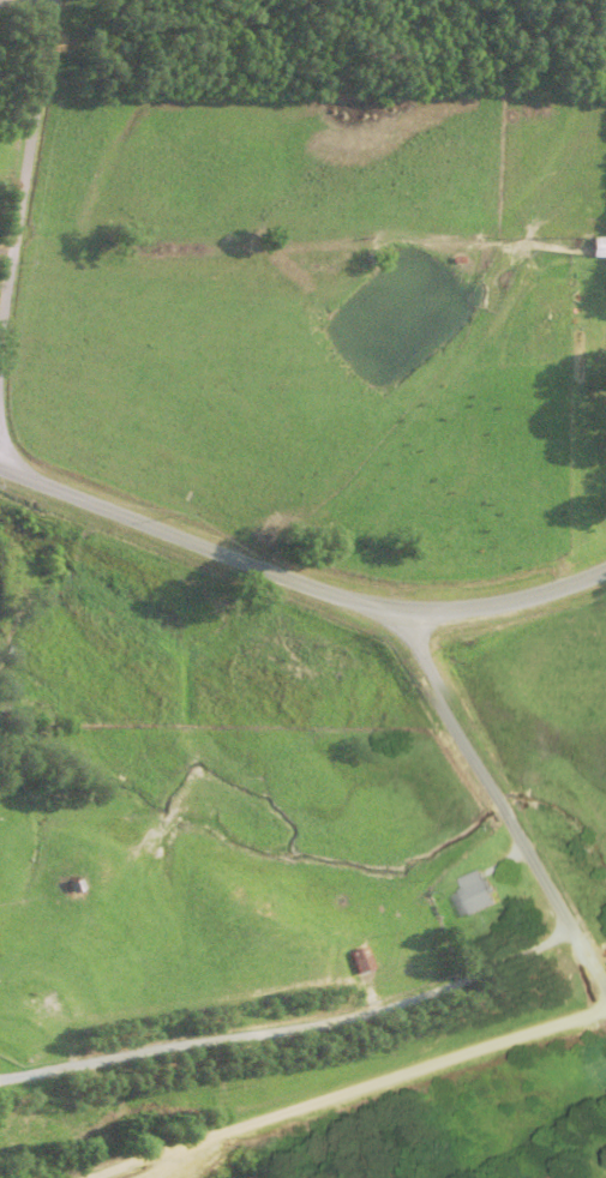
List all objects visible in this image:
road: (23, 166)
building: (595, 248)
road: (1, 456)
road: (298, 581)
road: (498, 803)
building: (470, 895)
building: (354, 961)
building: (412, 966)
building: (551, 1176)

